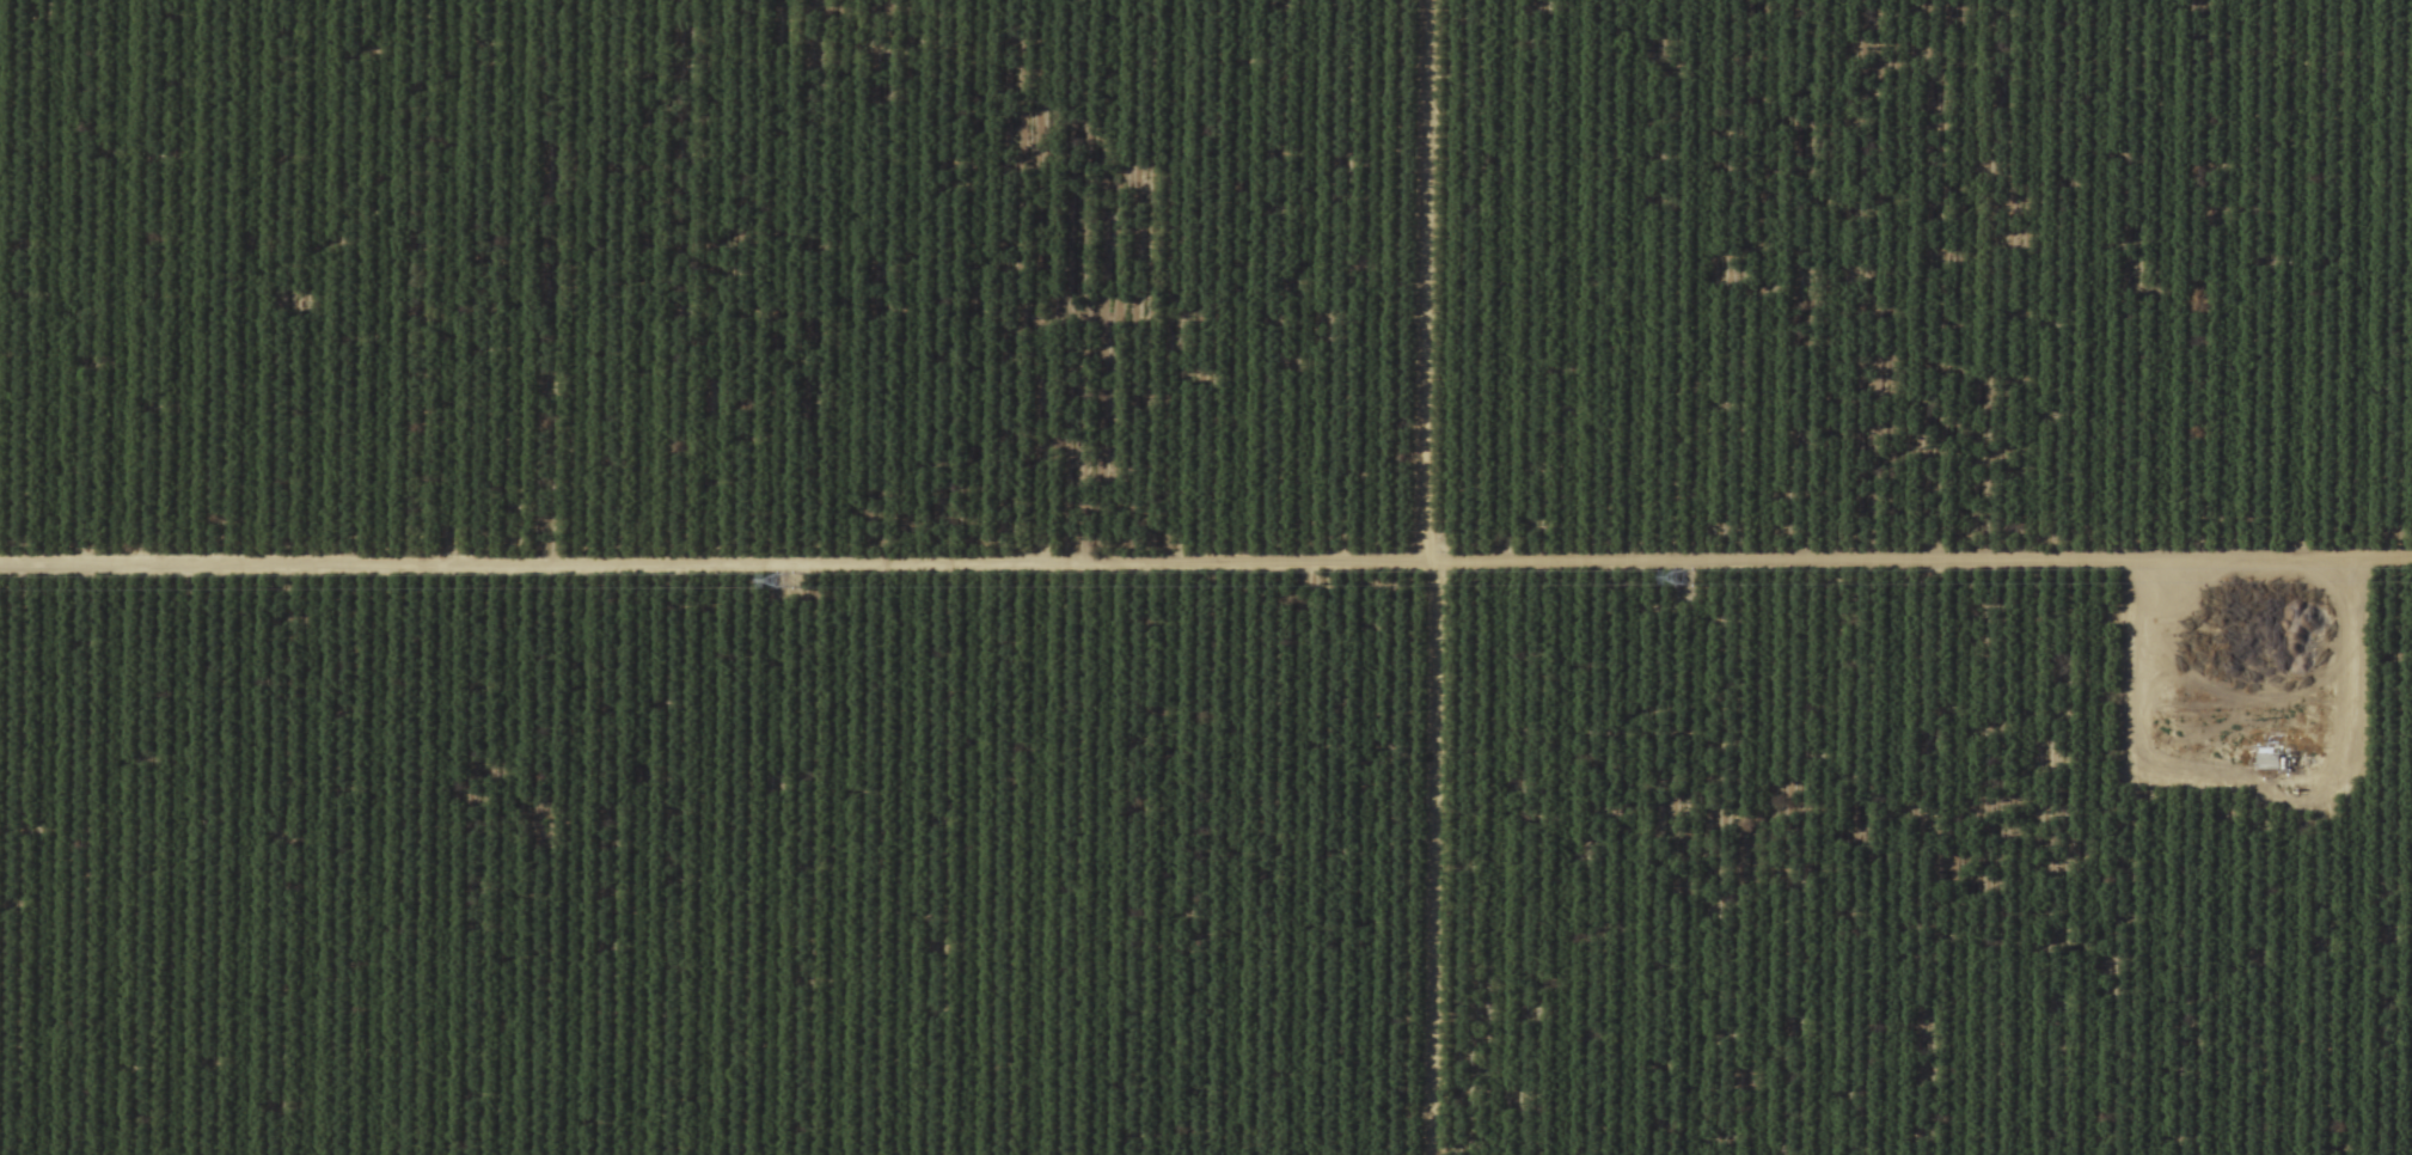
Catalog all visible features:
building: (2278, 647)

